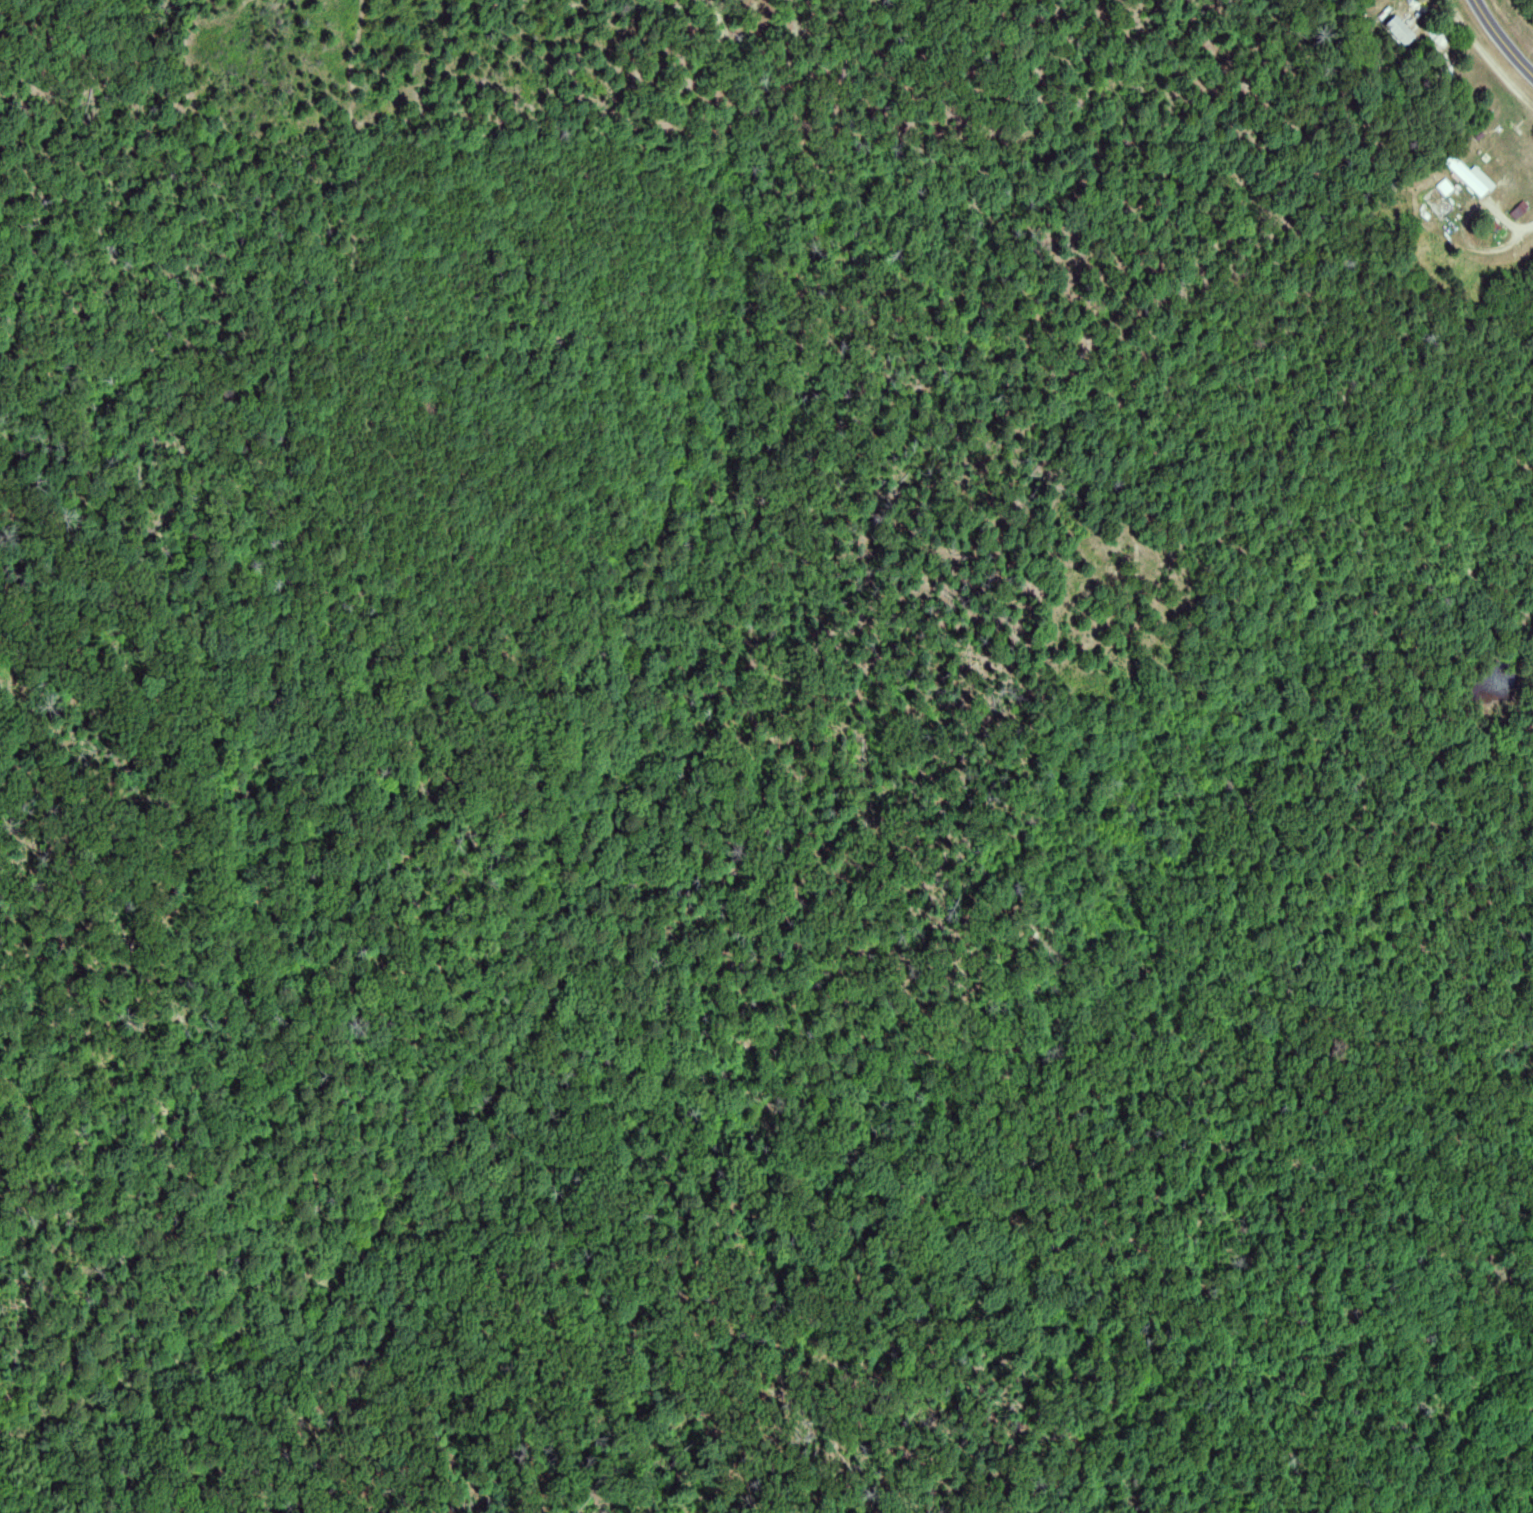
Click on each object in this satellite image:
road: (1497, 40)
building: (1473, 176)
building: (1448, 187)

